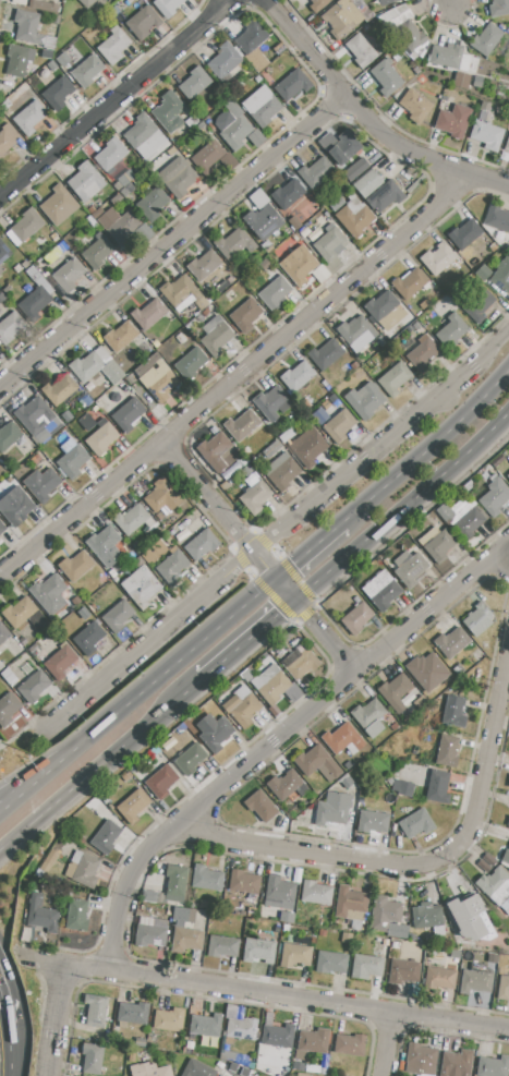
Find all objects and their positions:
building: (392, 1)
building: (87, 2)
road: (446, 3)
building: (316, 4)
building: (45, 5)
building: (167, 7)
building: (498, 8)
building: (347, 16)
building: (143, 22)
building: (31, 29)
building: (410, 35)
building: (251, 36)
building: (486, 39)
building: (113, 46)
building: (361, 50)
building: (46, 55)
building: (450, 57)
building: (63, 59)
building: (19, 60)
building: (255, 60)
building: (223, 61)
building: (488, 70)
building: (87, 71)
building: (386, 77)
building: (462, 81)
building: (194, 83)
building: (292, 85)
building: (58, 94)
road: (112, 97)
building: (262, 106)
building: (415, 106)
building: (169, 111)
building: (29, 118)
road: (366, 121)
building: (453, 121)
building: (238, 129)
building: (7, 135)
building: (487, 135)
building: (145, 138)
building: (507, 143)
building: (340, 146)
building: (110, 155)
building: (207, 158)
building: (355, 169)
building: (315, 172)
building: (175, 177)
building: (123, 180)
building: (85, 182)
building: (367, 183)
building: (131, 185)
building: (287, 194)
building: (385, 196)
building: (117, 200)
building: (153, 202)
building: (59, 205)
building: (352, 216)
building: (497, 218)
building: (263, 222)
building: (294, 223)
building: (24, 227)
building: (122, 228)
building: (304, 232)
building: (464, 233)
building: (294, 238)
road: (170, 240)
building: (329, 242)
building: (233, 244)
building: (61, 246)
building: (98, 251)
building: (3, 252)
building: (50, 257)
building: (437, 259)
building: (264, 264)
building: (298, 264)
building: (203, 265)
building: (1, 269)
building: (319, 274)
building: (69, 275)
building: (502, 276)
building: (39, 279)
building: (409, 283)
building: (56, 287)
building: (177, 290)
building: (275, 292)
building: (1, 297)
building: (36, 302)
building: (379, 305)
building: (478, 306)
building: (148, 314)
building: (245, 314)
building: (10, 327)
building: (355, 329)
building: (451, 330)
building: (121, 336)
building: (216, 336)
building: (325, 353)
building: (422, 355)
building: (191, 362)
building: (95, 366)
road: (233, 375)
building: (296, 376)
building: (393, 379)
building: (158, 383)
building: (60, 389)
building: (364, 400)
building: (272, 403)
building: (128, 414)
building: (36, 416)
building: (242, 425)
building: (339, 426)
building: (202, 434)
building: (9, 436)
road: (389, 436)
building: (101, 439)
road: (429, 445)
building: (307, 447)
building: (218, 451)
building: (72, 459)
building: (281, 472)
building: (508, 477)
building: (41, 484)
building: (253, 494)
road: (205, 495)
building: (161, 496)
building: (494, 497)
road: (401, 505)
building: (15, 507)
building: (445, 512)
building: (131, 520)
building: (469, 523)
building: (2, 528)
building: (201, 544)
road: (258, 544)
building: (437, 545)
building: (106, 546)
road: (310, 547)
building: (148, 555)
building: (137, 561)
traffic signals: (290, 565)
building: (75, 566)
building: (172, 567)
traffic signals: (267, 568)
building: (410, 569)
building: (140, 587)
building: (380, 591)
building: (48, 594)
road: (302, 609)
traffic signals: (278, 612)
building: (19, 613)
building: (118, 616)
traffic signals: (307, 617)
building: (357, 618)
building: (478, 619)
building: (3, 632)
building: (88, 638)
road: (149, 640)
building: (23, 642)
building: (451, 642)
road: (239, 644)
road: (177, 660)
building: (59, 662)
building: (302, 664)
building: (427, 672)
building: (246, 675)
building: (270, 684)
building: (33, 687)
building: (395, 691)
building: (421, 702)
building: (8, 709)
building: (242, 709)
building: (455, 712)
building: (369, 716)
building: (215, 732)
road: (22, 734)
road: (275, 735)
building: (343, 739)
road: (2, 749)
building: (447, 752)
building: (190, 759)
building: (316, 763)
building: (348, 764)
road: (50, 767)
road: (40, 769)
road: (92, 770)
building: (160, 782)
building: (346, 784)
building: (508, 784)
building: (287, 785)
building: (403, 787)
building: (438, 787)
road: (10, 800)
building: (260, 805)
building: (133, 806)
building: (334, 809)
building: (373, 821)
building: (508, 822)
building: (416, 824)
building: (106, 837)
building: (506, 856)
building: (76, 857)
building: (489, 860)
road: (425, 861)
building: (484, 866)
building: (70, 870)
building: (86, 870)
building: (206, 878)
building: (175, 882)
building: (244, 882)
building: (495, 885)
building: (280, 888)
building: (316, 893)
building: (159, 897)
building: (351, 906)
building: (41, 914)
building: (180, 914)
building: (384, 914)
building: (76, 915)
building: (427, 916)
building: (286, 917)
building: (471, 919)
building: (150, 932)
building: (347, 938)
building: (185, 939)
building: (222, 947)
building: (258, 952)
building: (452, 954)
building: (294, 955)
building: (329, 963)
building: (366, 967)
building: (403, 972)
building: (440, 976)
building: (477, 981)
building: (502, 986)
road: (262, 994)
road: (7, 1002)
building: (95, 1009)
building: (132, 1014)
road: (53, 1020)
building: (168, 1020)
building: (205, 1026)
building: (240, 1028)
building: (277, 1033)
building: (314, 1040)
building: (140, 1042)
road: (385, 1044)
building: (190, 1045)
building: (350, 1045)
road: (12, 1051)
building: (198, 1052)
building: (300, 1055)
building: (232, 1056)
building: (131, 1057)
building: (93, 1059)
building: (421, 1060)
building: (456, 1063)
building: (299, 1066)
building: (493, 1066)
building: (149, 1069)
building: (197, 1069)
building: (301, 1074)

